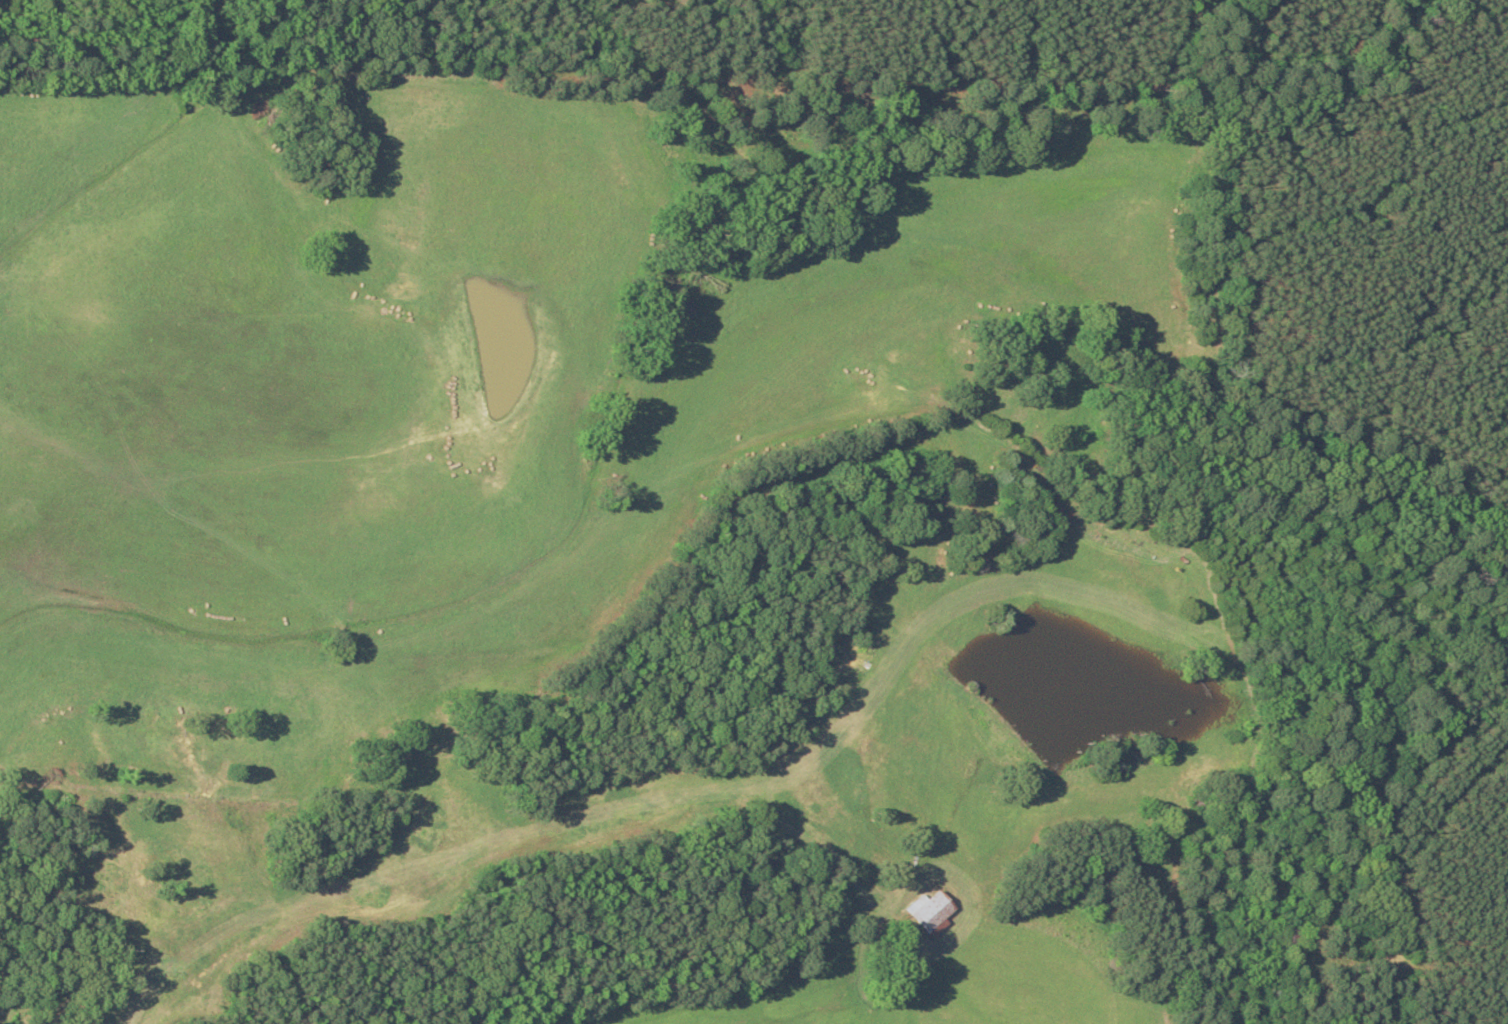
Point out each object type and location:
building: (930, 912)

